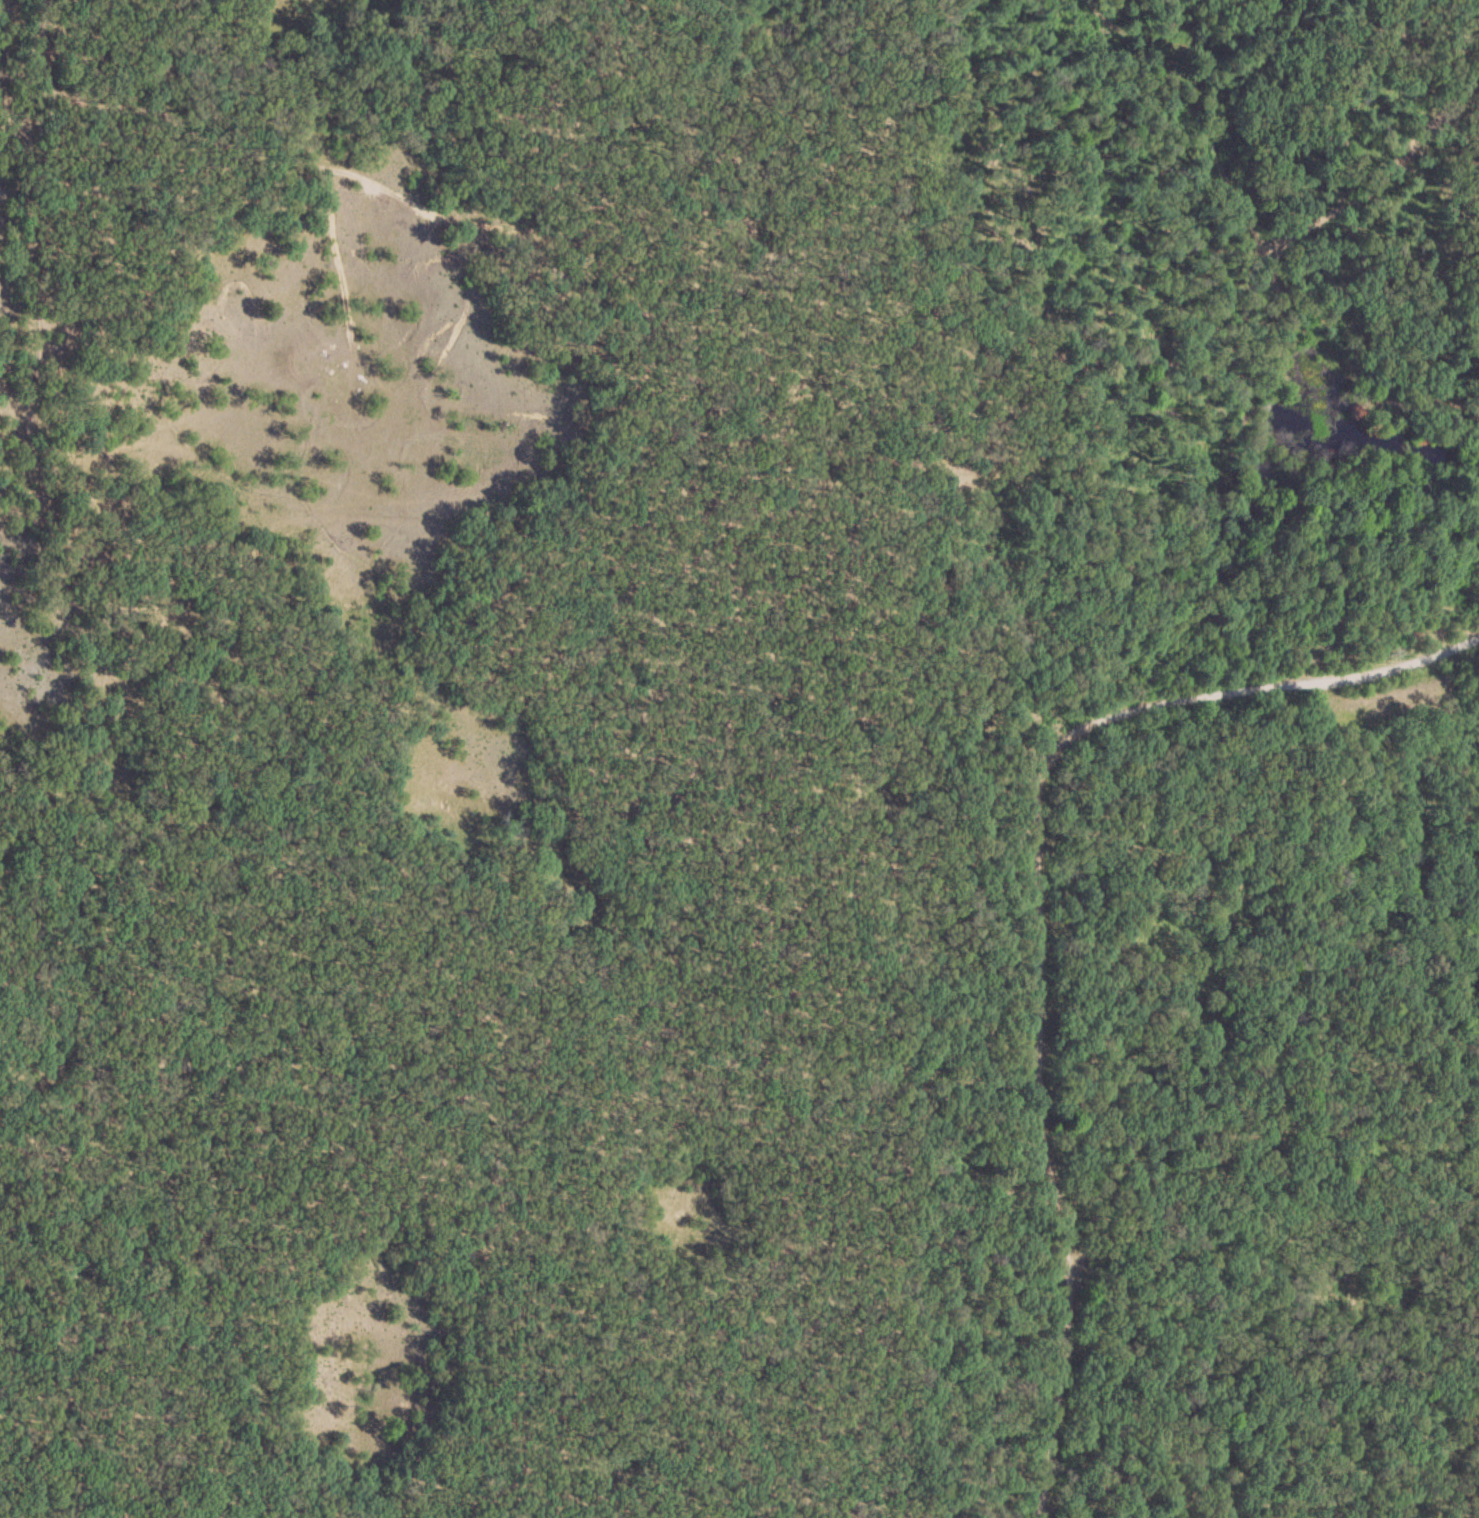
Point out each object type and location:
road: (1332, 247)
road: (1021, 896)

